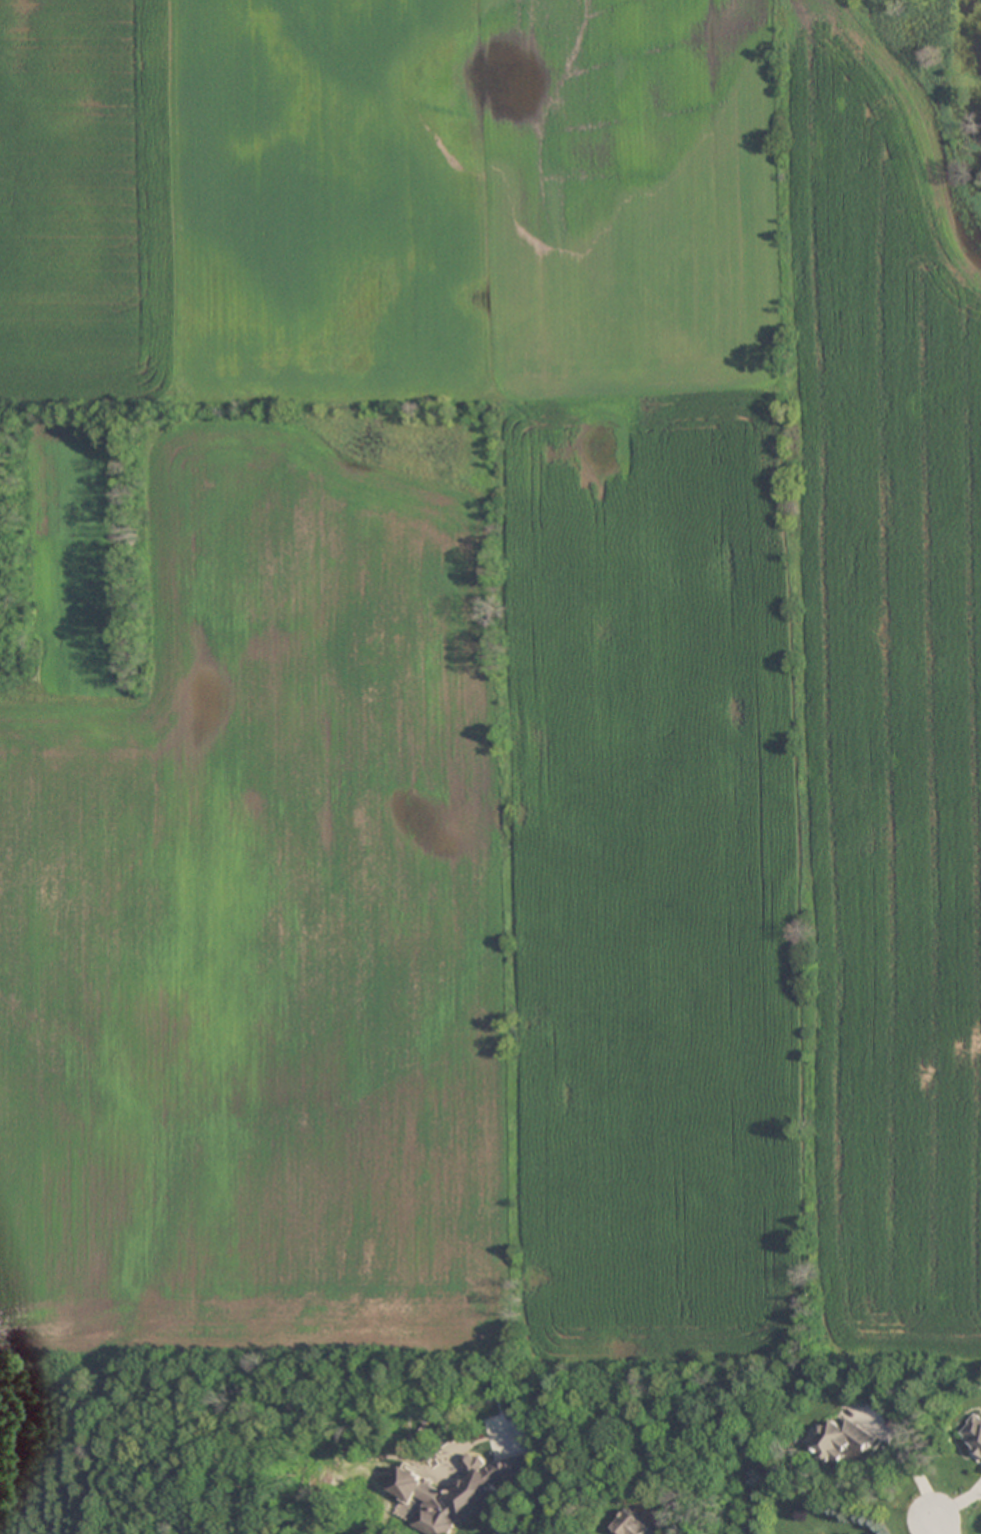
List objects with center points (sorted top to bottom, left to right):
crop: (492, 684)
building: (972, 1434)
building: (842, 1441)
park: (125, 1450)
building: (460, 1492)
building: (632, 1525)
road: (939, 1525)

